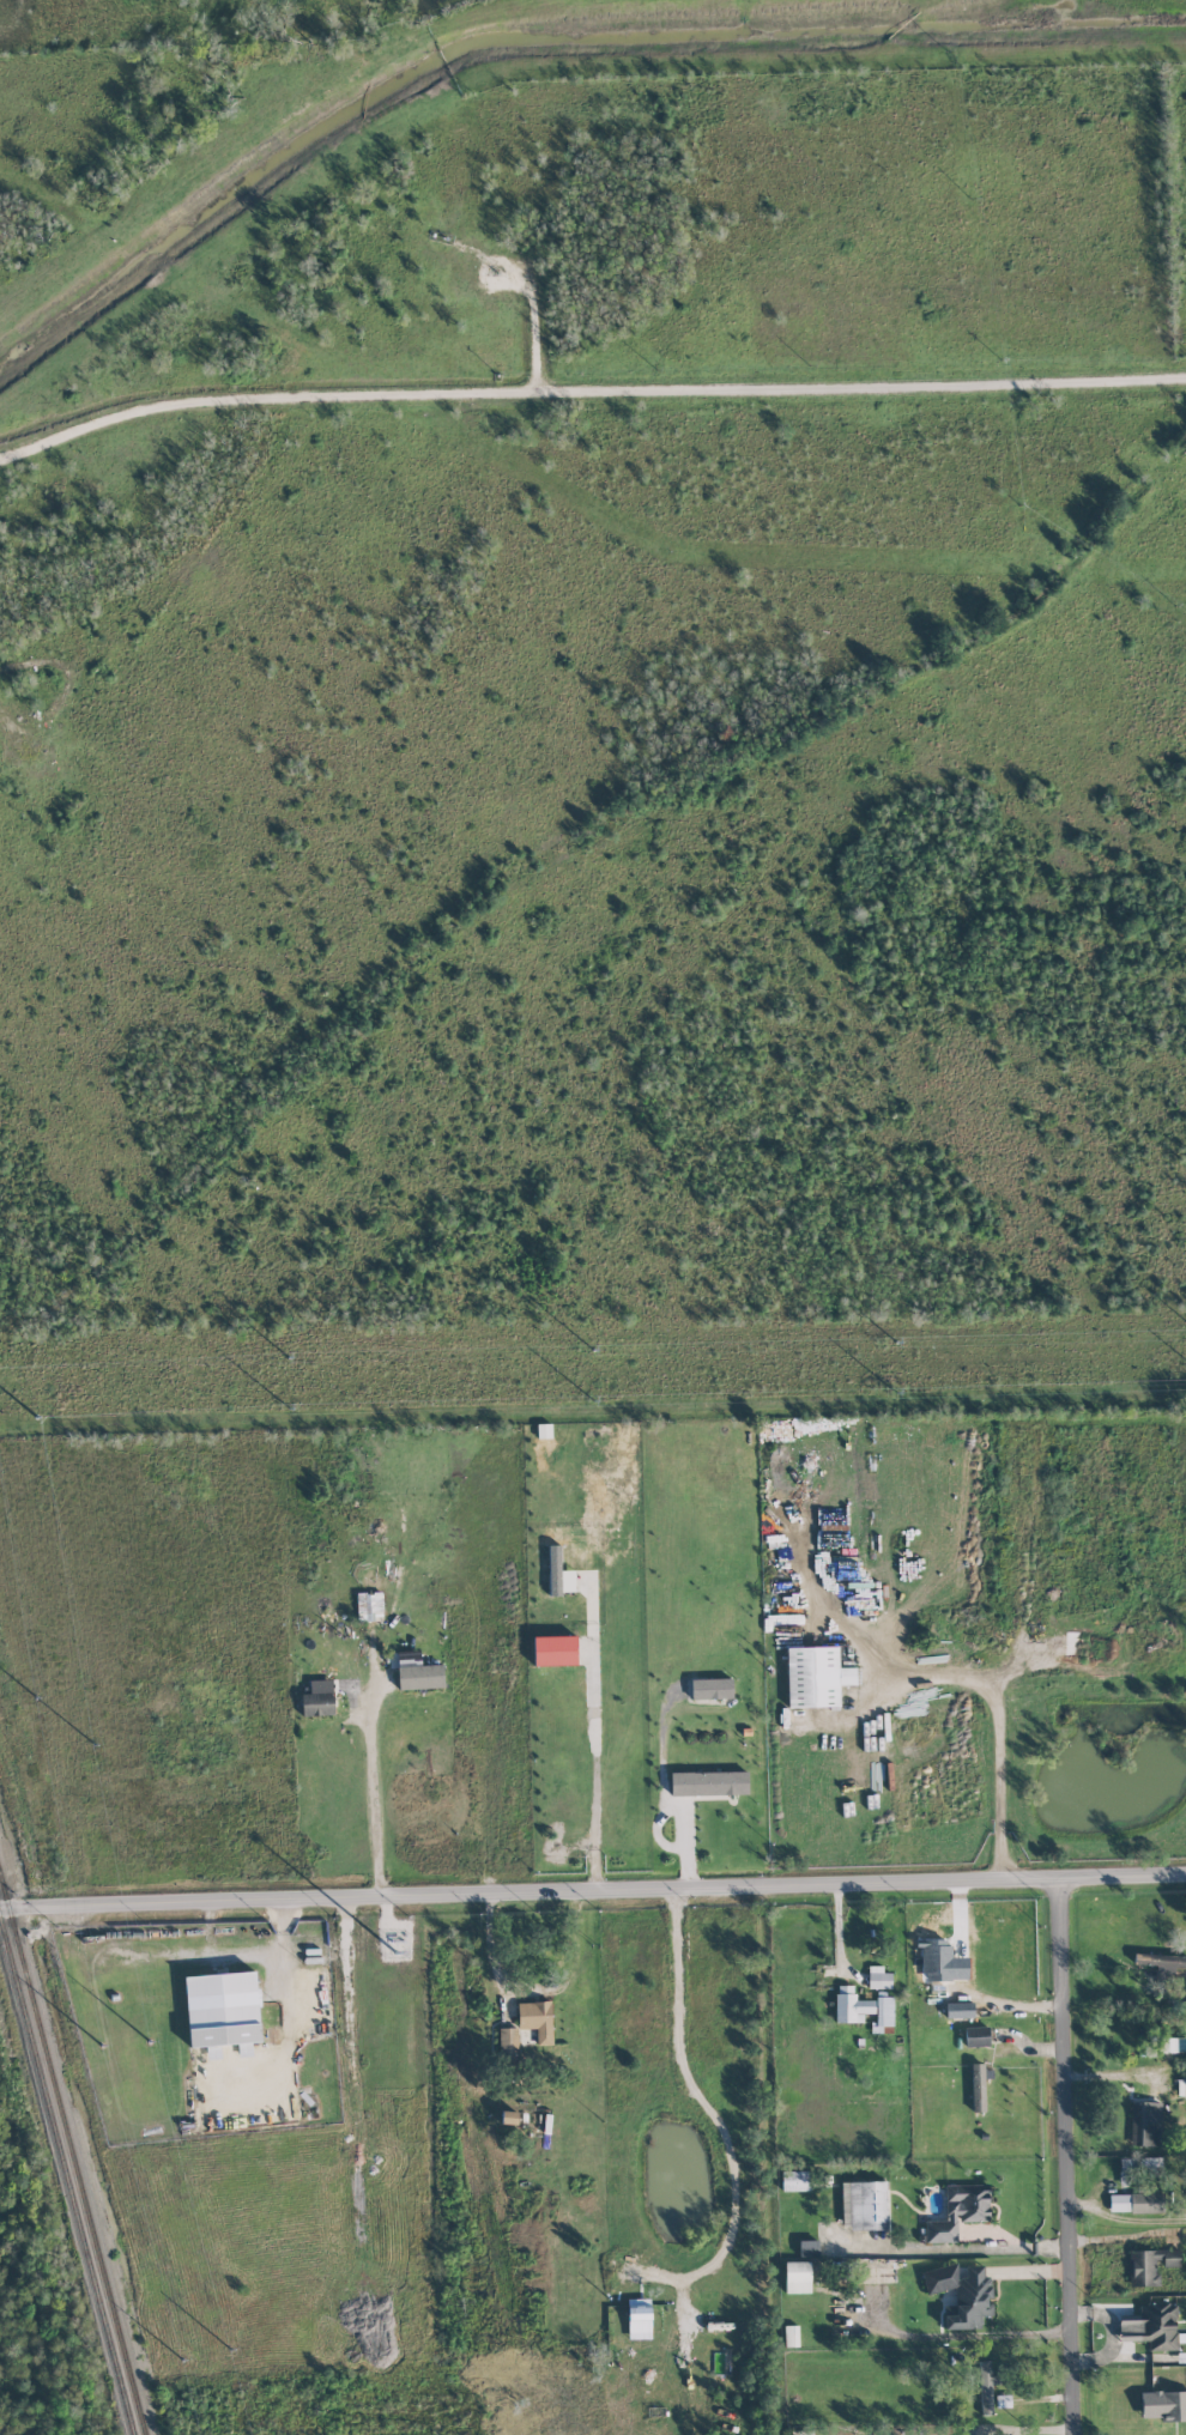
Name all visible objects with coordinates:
road: (588, 389)
power tower: (883, 1343)
power tower: (580, 1350)
power tower: (274, 1358)
power tower: (887, 1393)
power tower: (581, 1400)
power tower: (278, 1407)
power tower: (32, 1413)
building: (558, 1574)
building: (369, 1605)
building: (553, 1650)
building: (417, 1672)
building: (816, 1677)
building: (712, 1689)
building: (319, 1698)
road: (369, 1706)
power tower: (40, 1713)
road: (999, 1718)
power tower: (92, 1731)
road: (594, 1743)
building: (708, 1783)
road: (592, 1889)
road: (490, 1951)
road: (220, 1955)
building: (1161, 1962)
building: (939, 1963)
building: (878, 1977)
building: (851, 2005)
road: (286, 2006)
building: (222, 2009)
building: (883, 2016)
building: (535, 2019)
building: (976, 2036)
building: (508, 2045)
building: (243, 2048)
power tower: (153, 2051)
power tower: (104, 2059)
road: (1126, 2074)
building: (978, 2086)
building: (508, 2118)
road: (708, 2122)
building: (1145, 2124)
road: (1070, 2155)
railway: (72, 2157)
building: (1139, 2167)
railway: (66, 2177)
building: (794, 2180)
building: (1138, 2200)
building: (864, 2205)
building: (958, 2211)
road: (963, 2234)
building: (809, 2248)
building: (1149, 2265)
building: (798, 2277)
building: (962, 2294)
building: (639, 2319)
building: (1151, 2326)
building: (791, 2336)
power tower: (180, 2350)
power tower: (232, 2358)
building: (986, 2388)
building: (1003, 2400)
building: (1163, 2405)
building: (801, 2431)

